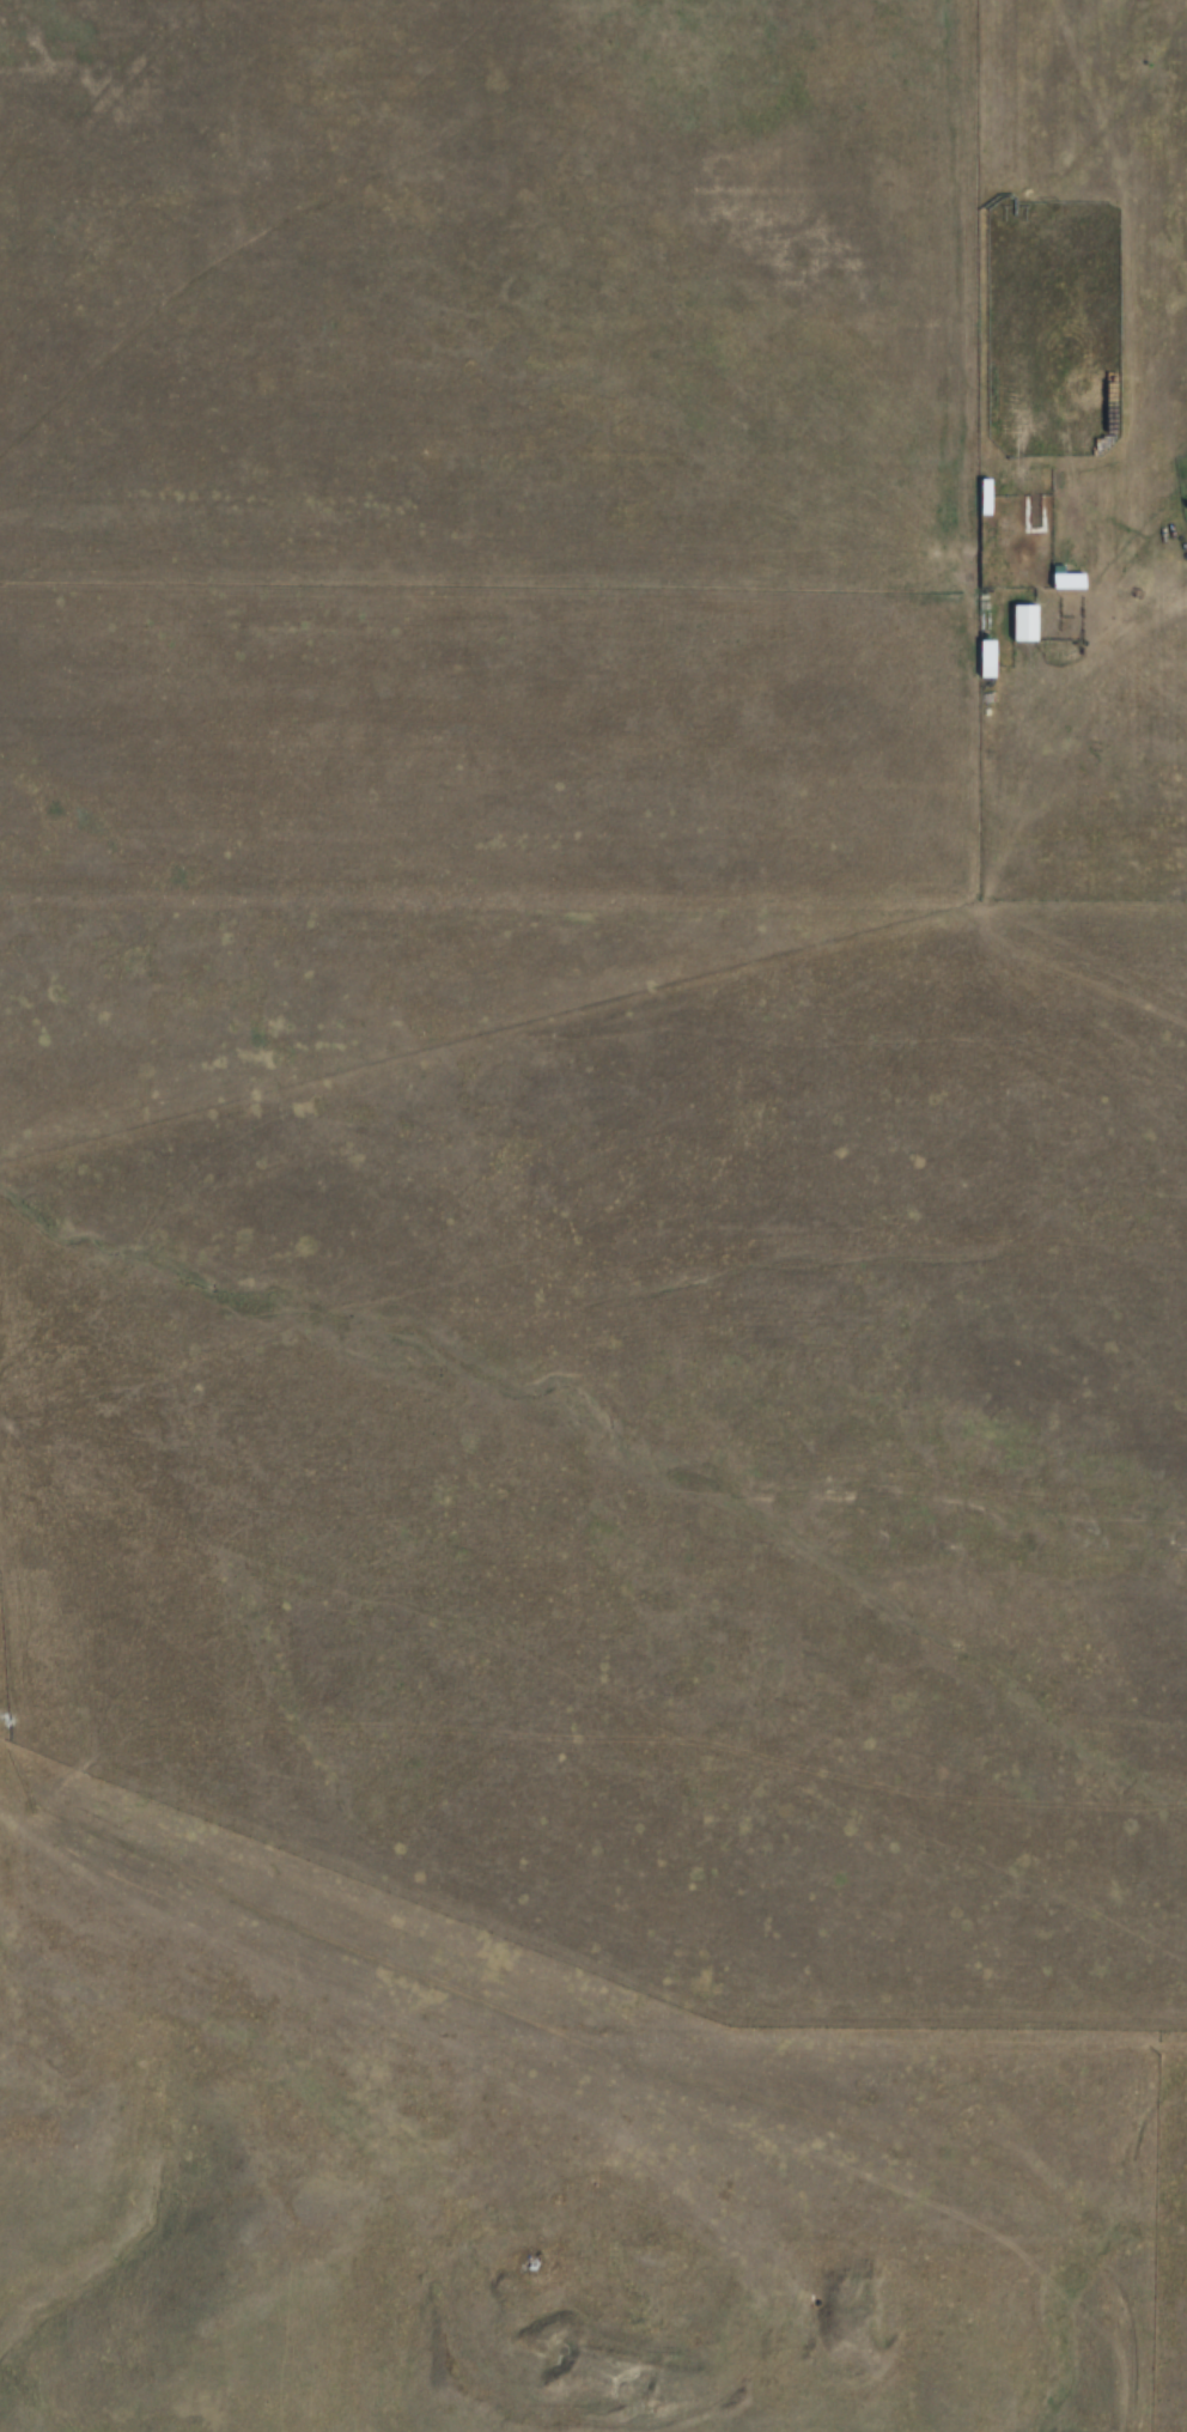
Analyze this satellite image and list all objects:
building: (987, 497)
building: (1071, 582)
building: (1027, 624)
building: (990, 659)

